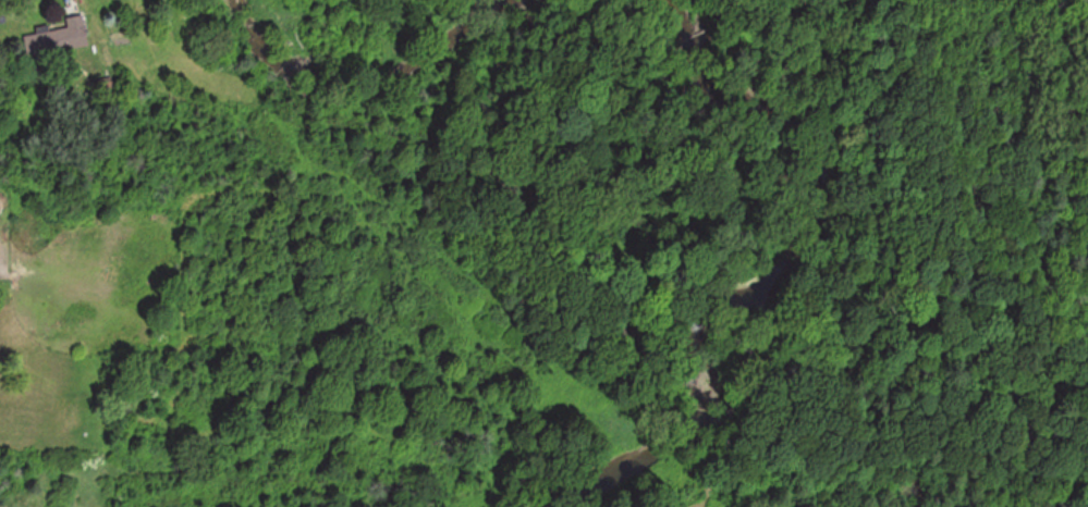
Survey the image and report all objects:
building: (59, 38)

